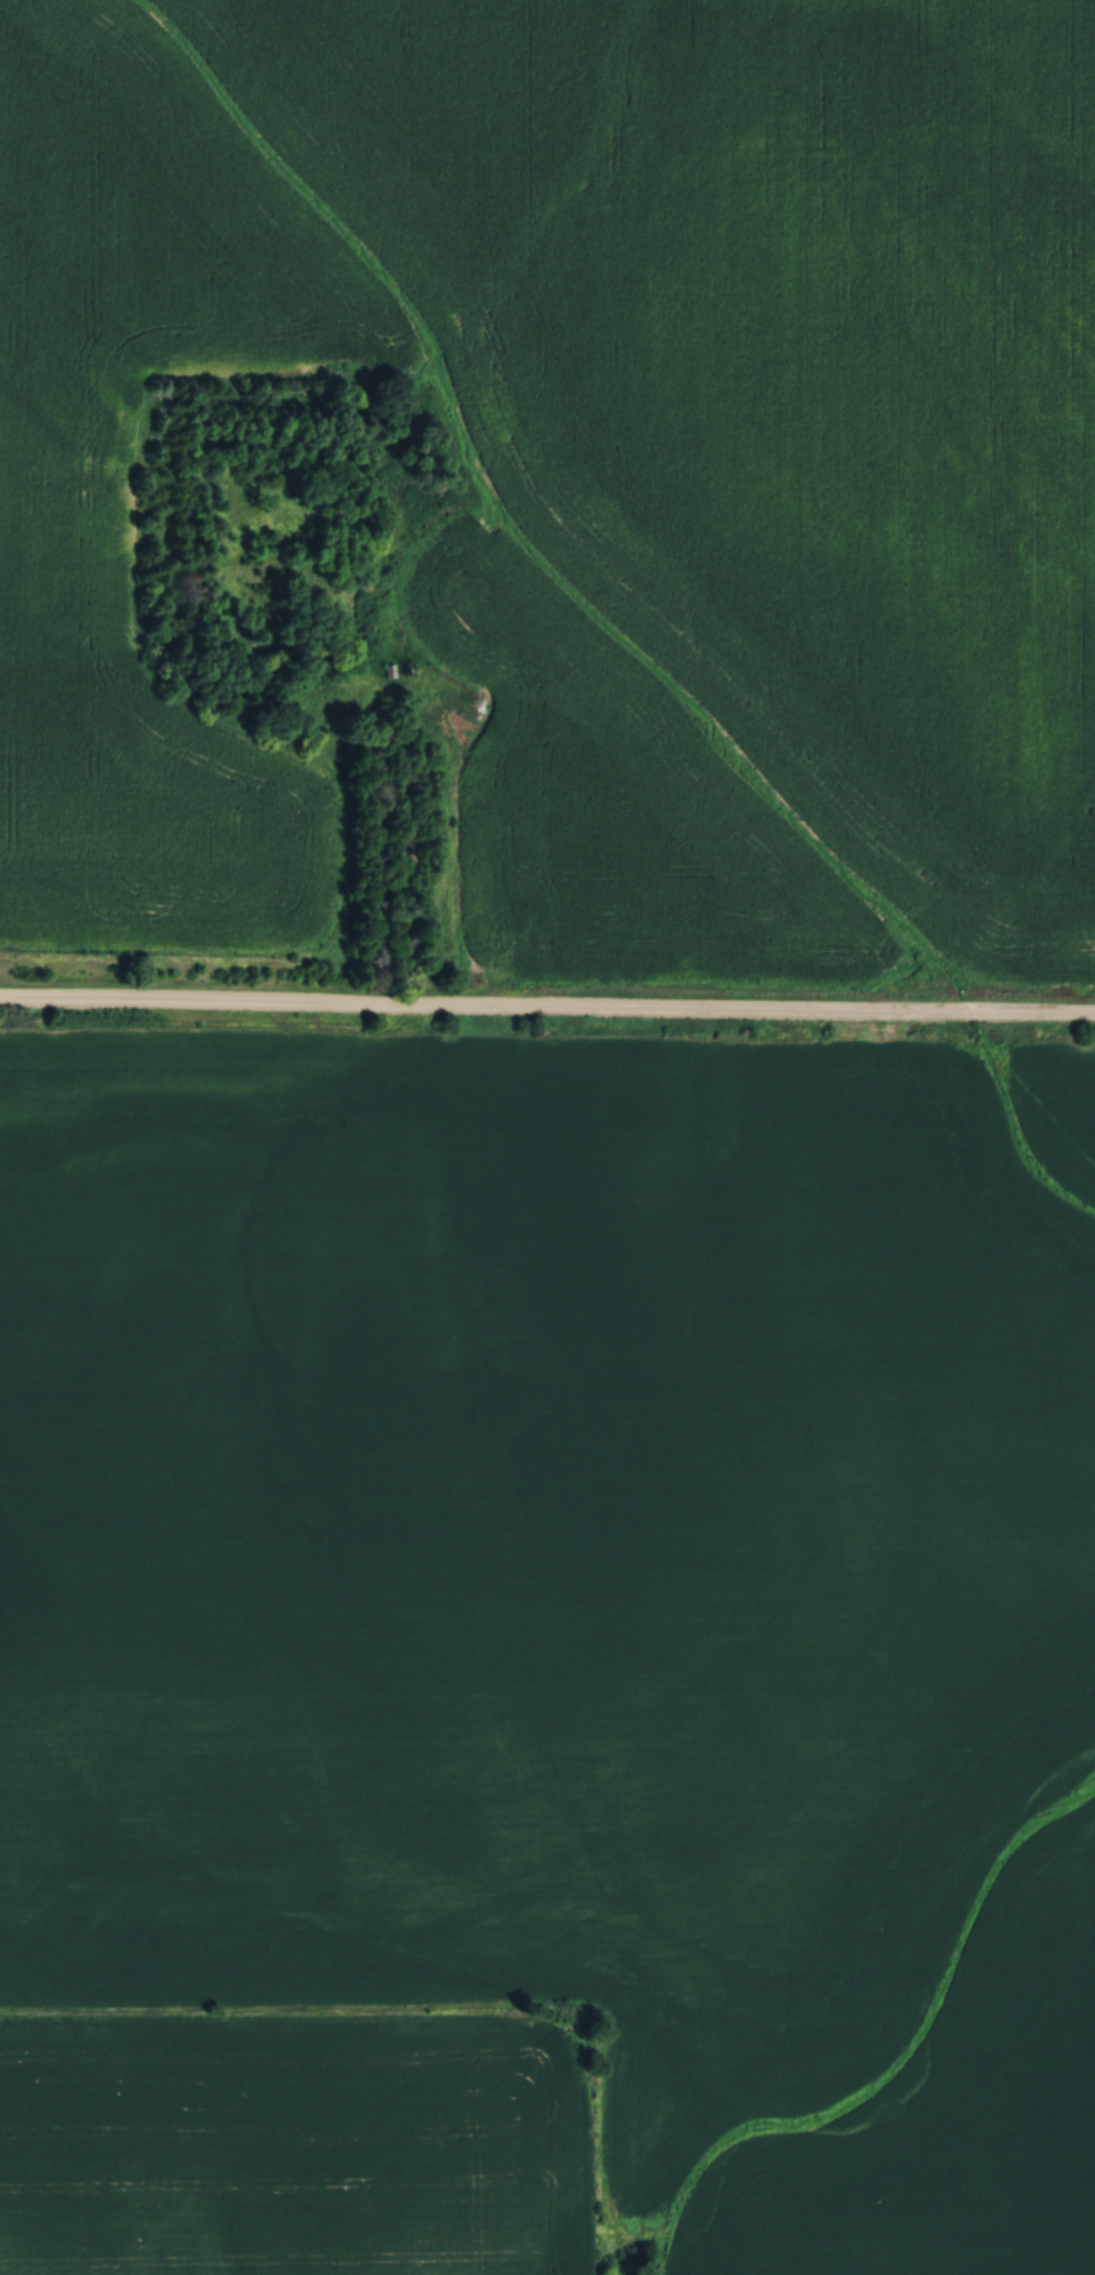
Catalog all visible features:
road: (480, 803)
road: (547, 1010)

